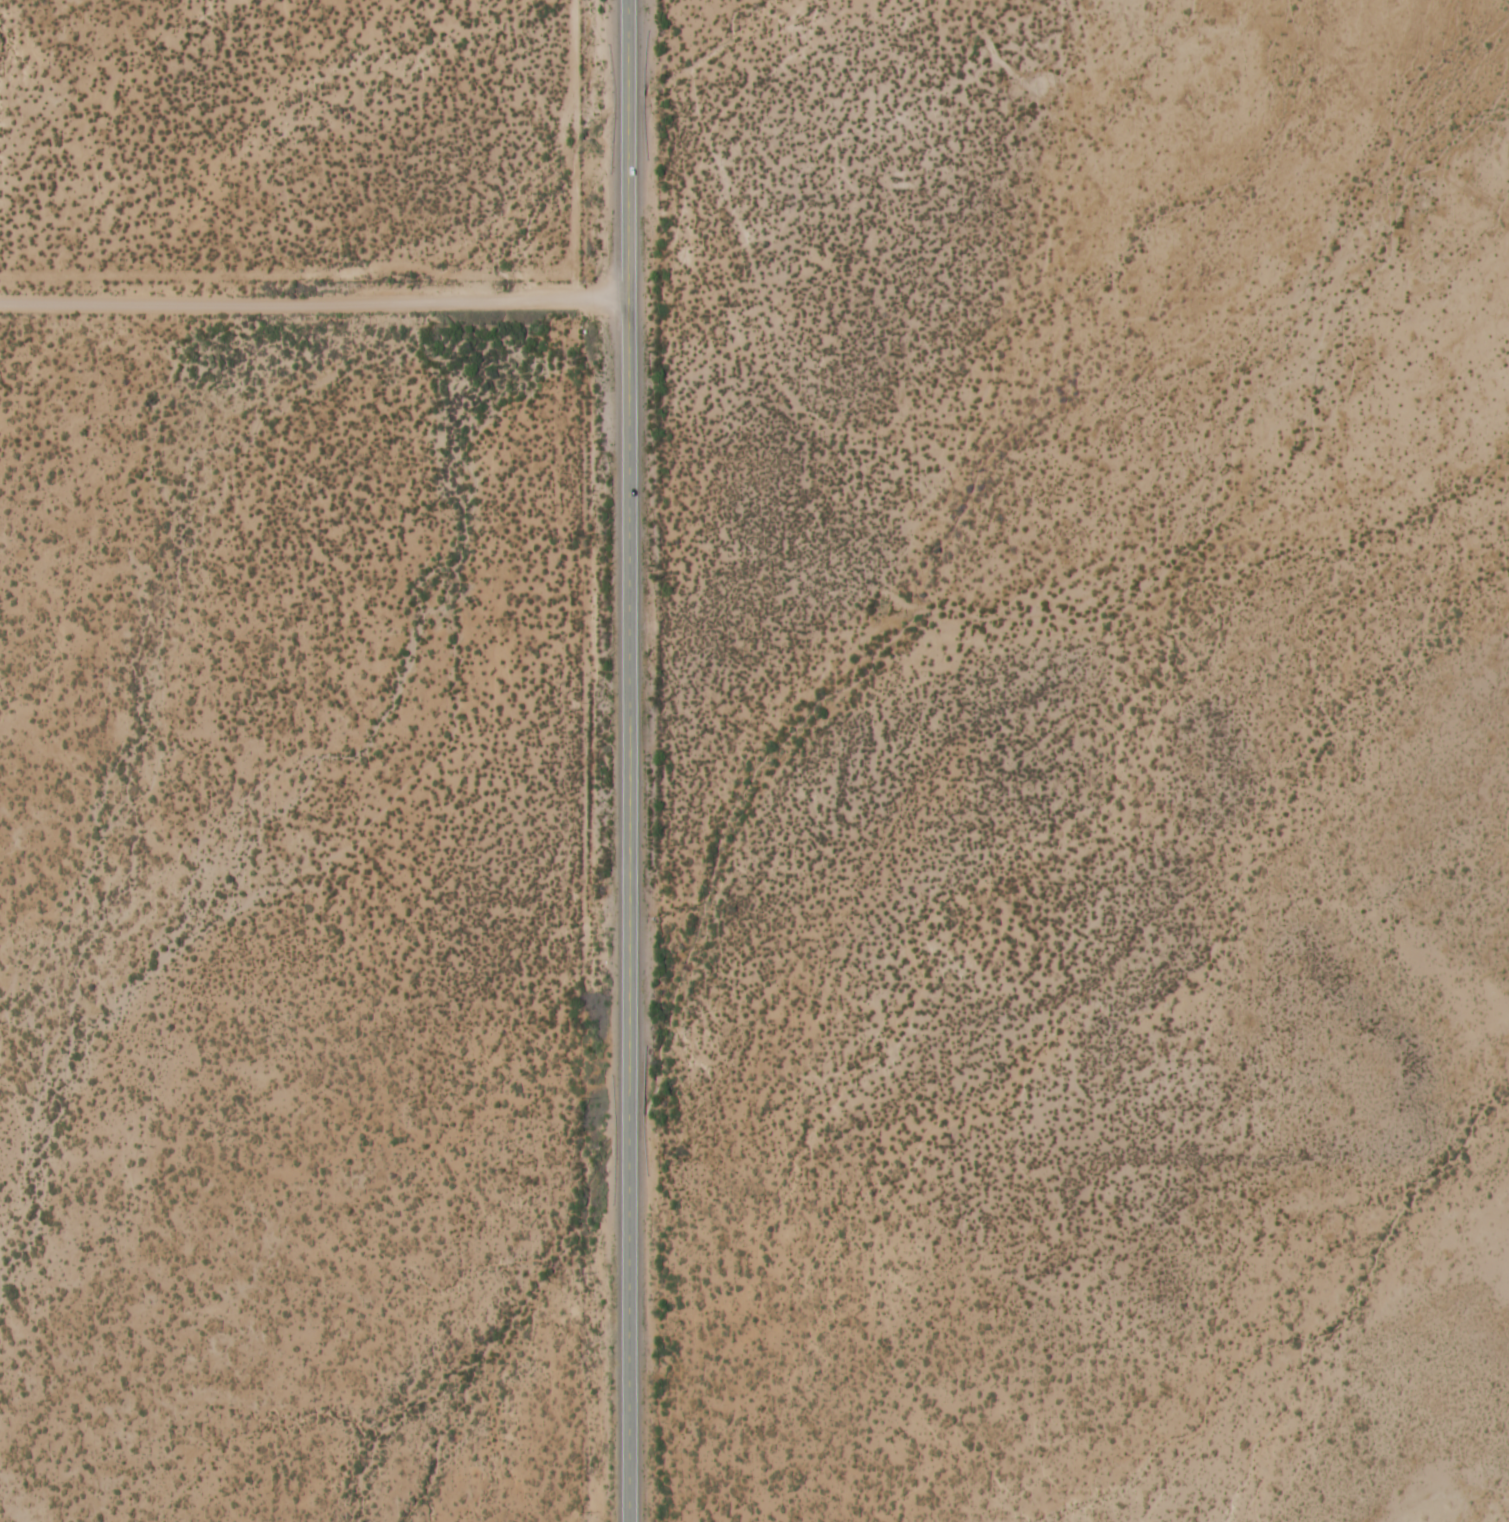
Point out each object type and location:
road: (419, 268)
road: (312, 304)
road: (624, 760)

